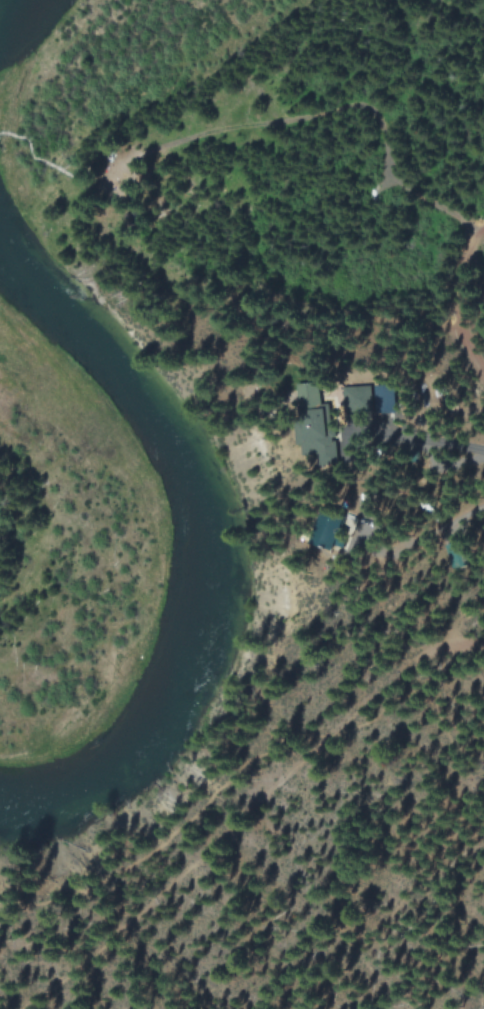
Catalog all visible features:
river: (3, 3)
road: (464, 305)
river: (206, 545)
road: (471, 642)
road: (192, 819)
road: (237, 822)

